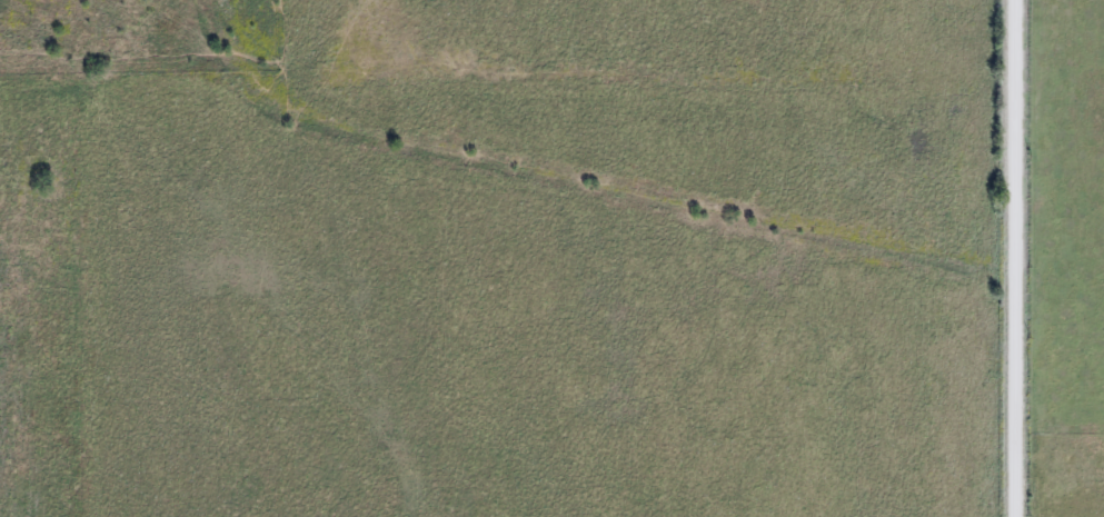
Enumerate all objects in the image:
road: (1020, 258)

